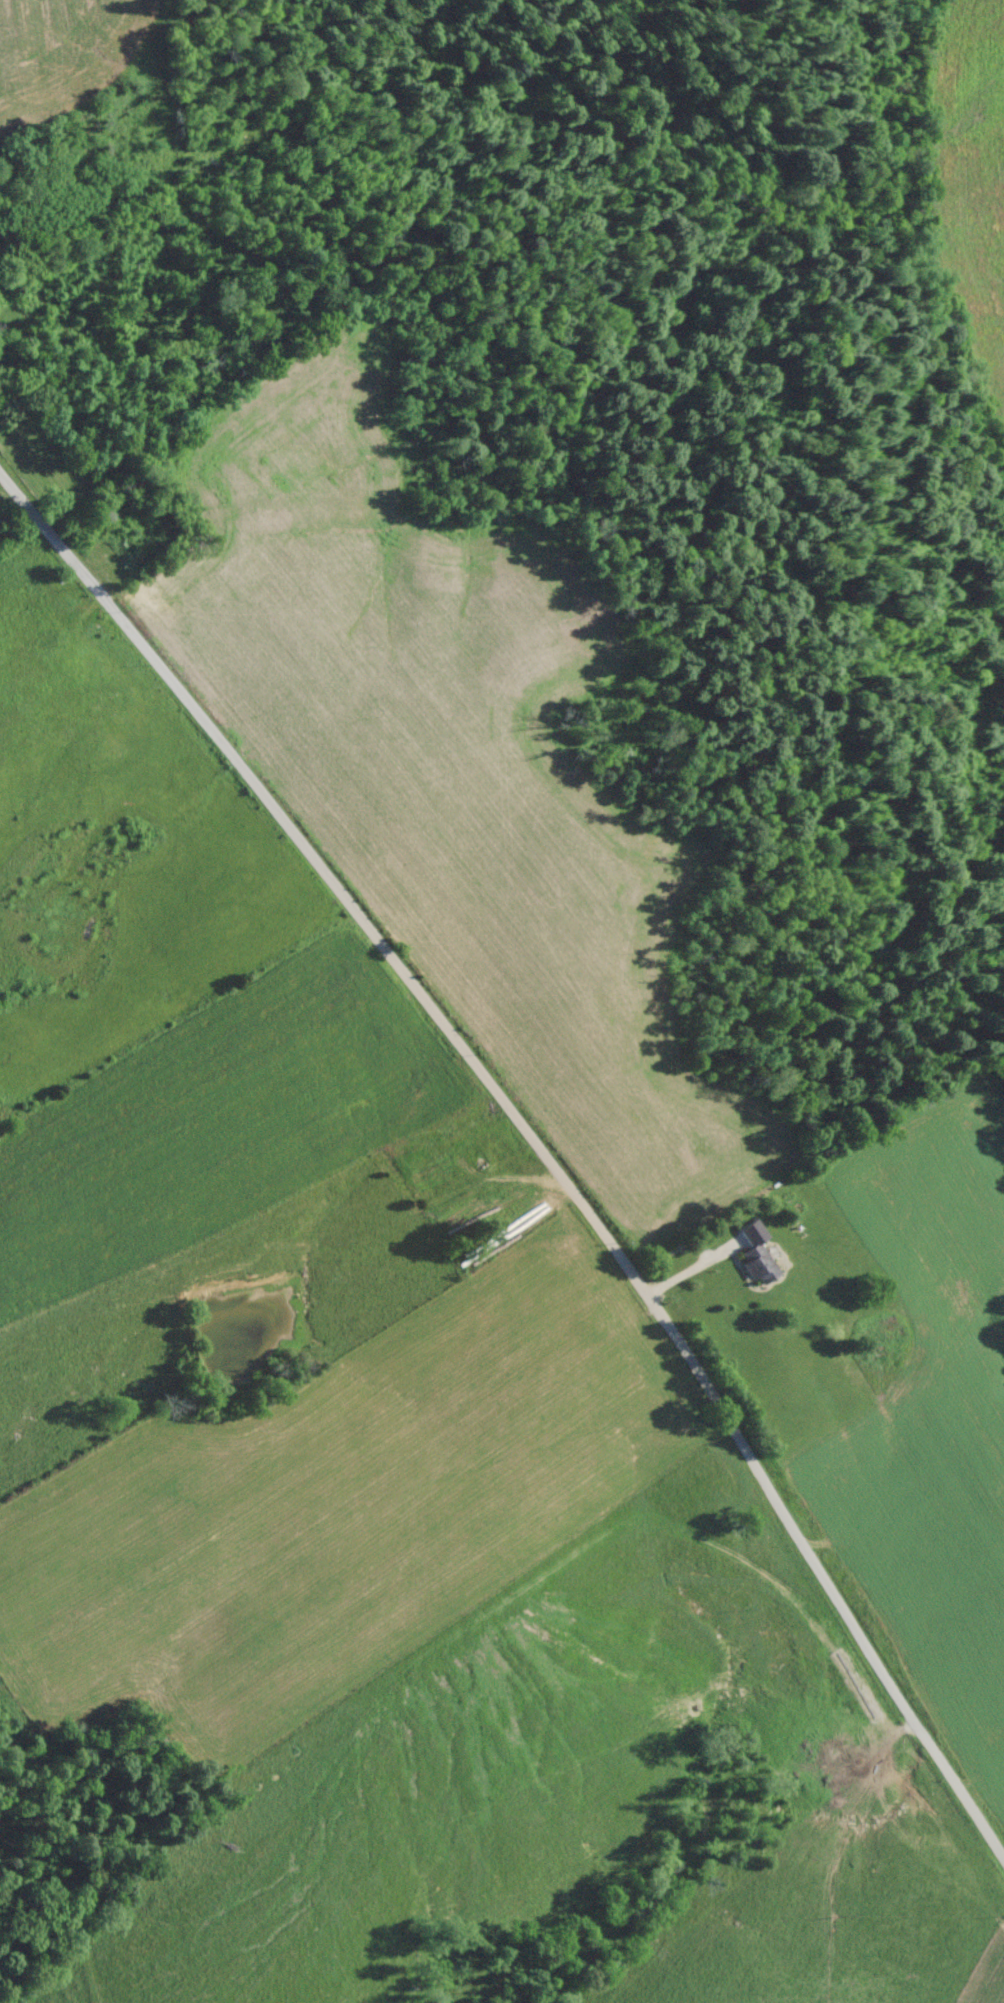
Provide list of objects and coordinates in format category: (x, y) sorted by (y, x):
road: (539, 1097)
building: (760, 1264)

